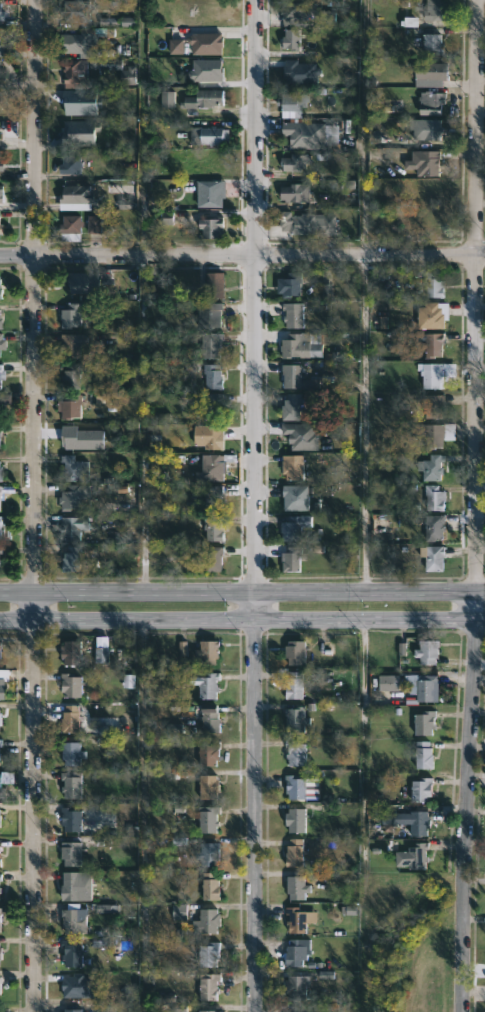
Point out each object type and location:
building: (438, 10)
building: (75, 13)
building: (295, 13)
building: (2, 14)
building: (84, 39)
building: (293, 39)
building: (435, 44)
building: (1, 45)
building: (0, 68)
building: (76, 71)
building: (433, 71)
building: (201, 99)
building: (292, 100)
building: (429, 103)
road: (142, 128)
building: (427, 129)
building: (302, 135)
building: (212, 136)
building: (0, 141)
building: (294, 162)
building: (431, 163)
building: (2, 165)
building: (69, 166)
building: (209, 194)
building: (294, 194)
building: (0, 195)
building: (74, 198)
building: (309, 223)
building: (94, 225)
building: (1, 228)
building: (213, 228)
building: (68, 229)
road: (242, 255)
building: (437, 284)
building: (73, 285)
building: (216, 285)
building: (293, 285)
building: (0, 292)
building: (72, 313)
building: (211, 314)
building: (296, 314)
building: (432, 316)
building: (1, 317)
building: (71, 344)
building: (436, 345)
building: (212, 346)
building: (1, 347)
building: (301, 347)
building: (1, 374)
building: (438, 375)
building: (293, 376)
building: (73, 377)
building: (214, 377)
building: (3, 399)
building: (432, 405)
building: (72, 406)
building: (213, 406)
building: (293, 407)
road: (364, 422)
road: (141, 423)
building: (1, 429)
building: (430, 433)
building: (303, 436)
building: (214, 437)
building: (212, 465)
building: (73, 467)
building: (294, 468)
building: (434, 468)
building: (1, 469)
building: (73, 496)
building: (435, 497)
building: (215, 498)
building: (298, 498)
building: (0, 499)
road: (255, 505)
road: (31, 506)
road: (472, 506)
building: (0, 522)
building: (70, 527)
building: (295, 527)
building: (434, 528)
building: (214, 529)
building: (0, 549)
building: (432, 556)
building: (69, 557)
building: (211, 559)
building: (294, 560)
road: (242, 590)
road: (242, 617)
building: (205, 651)
building: (425, 651)
building: (69, 652)
building: (293, 652)
building: (102, 656)
building: (4, 674)
building: (70, 684)
building: (389, 684)
building: (206, 685)
building: (292, 685)
building: (420, 686)
building: (0, 690)
building: (207, 718)
building: (295, 718)
building: (69, 719)
building: (0, 722)
building: (423, 722)
building: (0, 742)
building: (293, 752)
building: (70, 753)
building: (207, 753)
building: (422, 755)
building: (69, 784)
building: (206, 786)
building: (293, 786)
building: (0, 789)
building: (420, 789)
road: (143, 814)
building: (70, 818)
building: (207, 819)
building: (293, 821)
building: (0, 822)
building: (417, 822)
building: (0, 852)
building: (292, 853)
building: (69, 854)
building: (206, 854)
building: (412, 856)
building: (0, 877)
building: (208, 886)
building: (294, 887)
building: (73, 888)
building: (0, 890)
building: (0, 912)
building: (74, 920)
building: (294, 920)
building: (205, 921)
building: (70, 953)
building: (294, 953)
building: (208, 955)
building: (0, 957)
building: (76, 985)
building: (207, 986)
building: (294, 987)
building: (0, 991)
building: (70, 1010)
building: (208, 1010)
building: (291, 1010)

